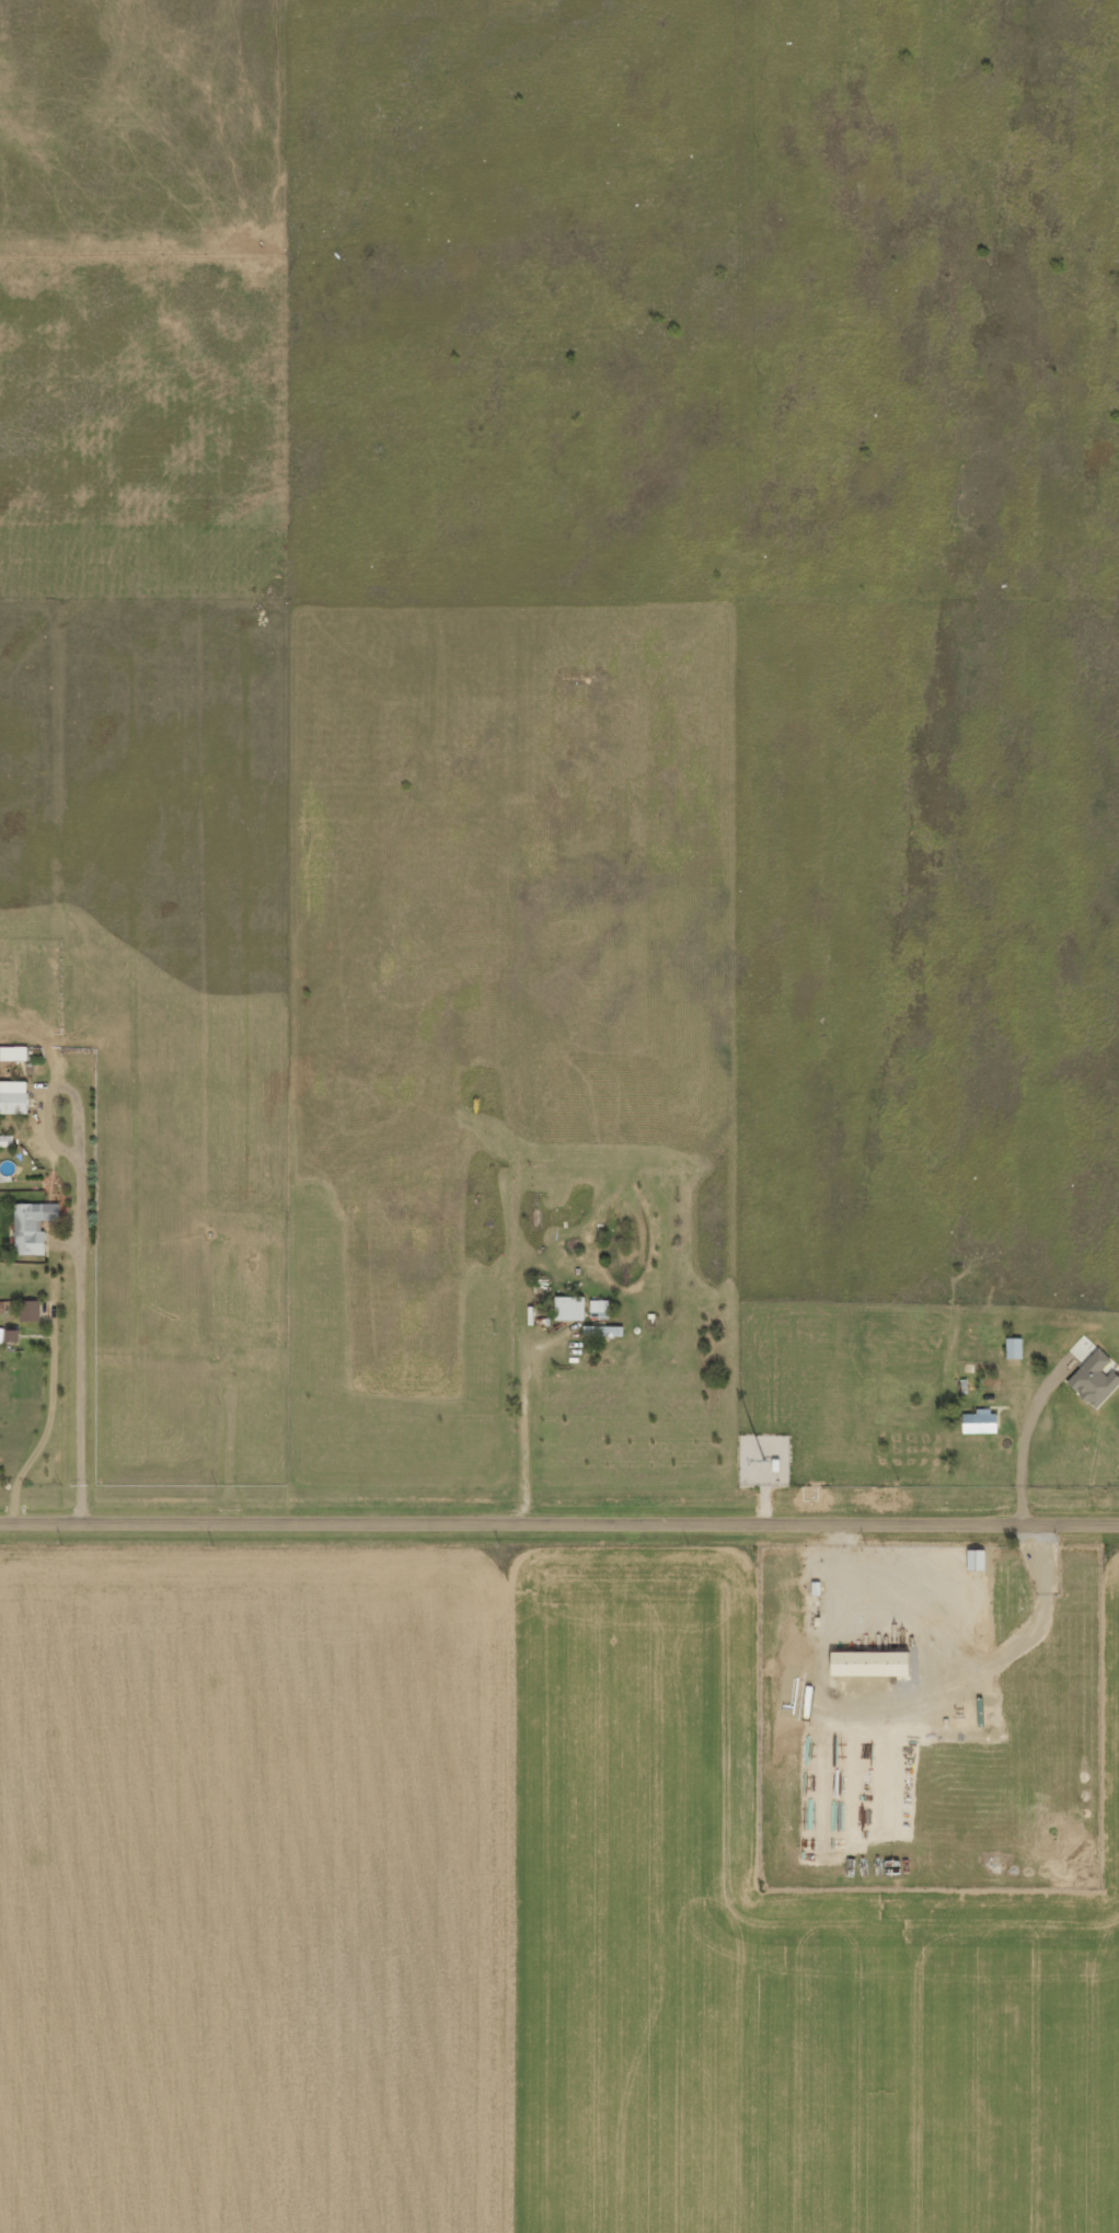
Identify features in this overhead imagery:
road: (766, 314)
building: (16, 1052)
building: (18, 1096)
building: (9, 1139)
building: (37, 1225)
building: (586, 1308)
building: (34, 1310)
building: (1013, 1346)
building: (1092, 1372)
building: (980, 1419)
road: (559, 1520)
building: (866, 1661)

